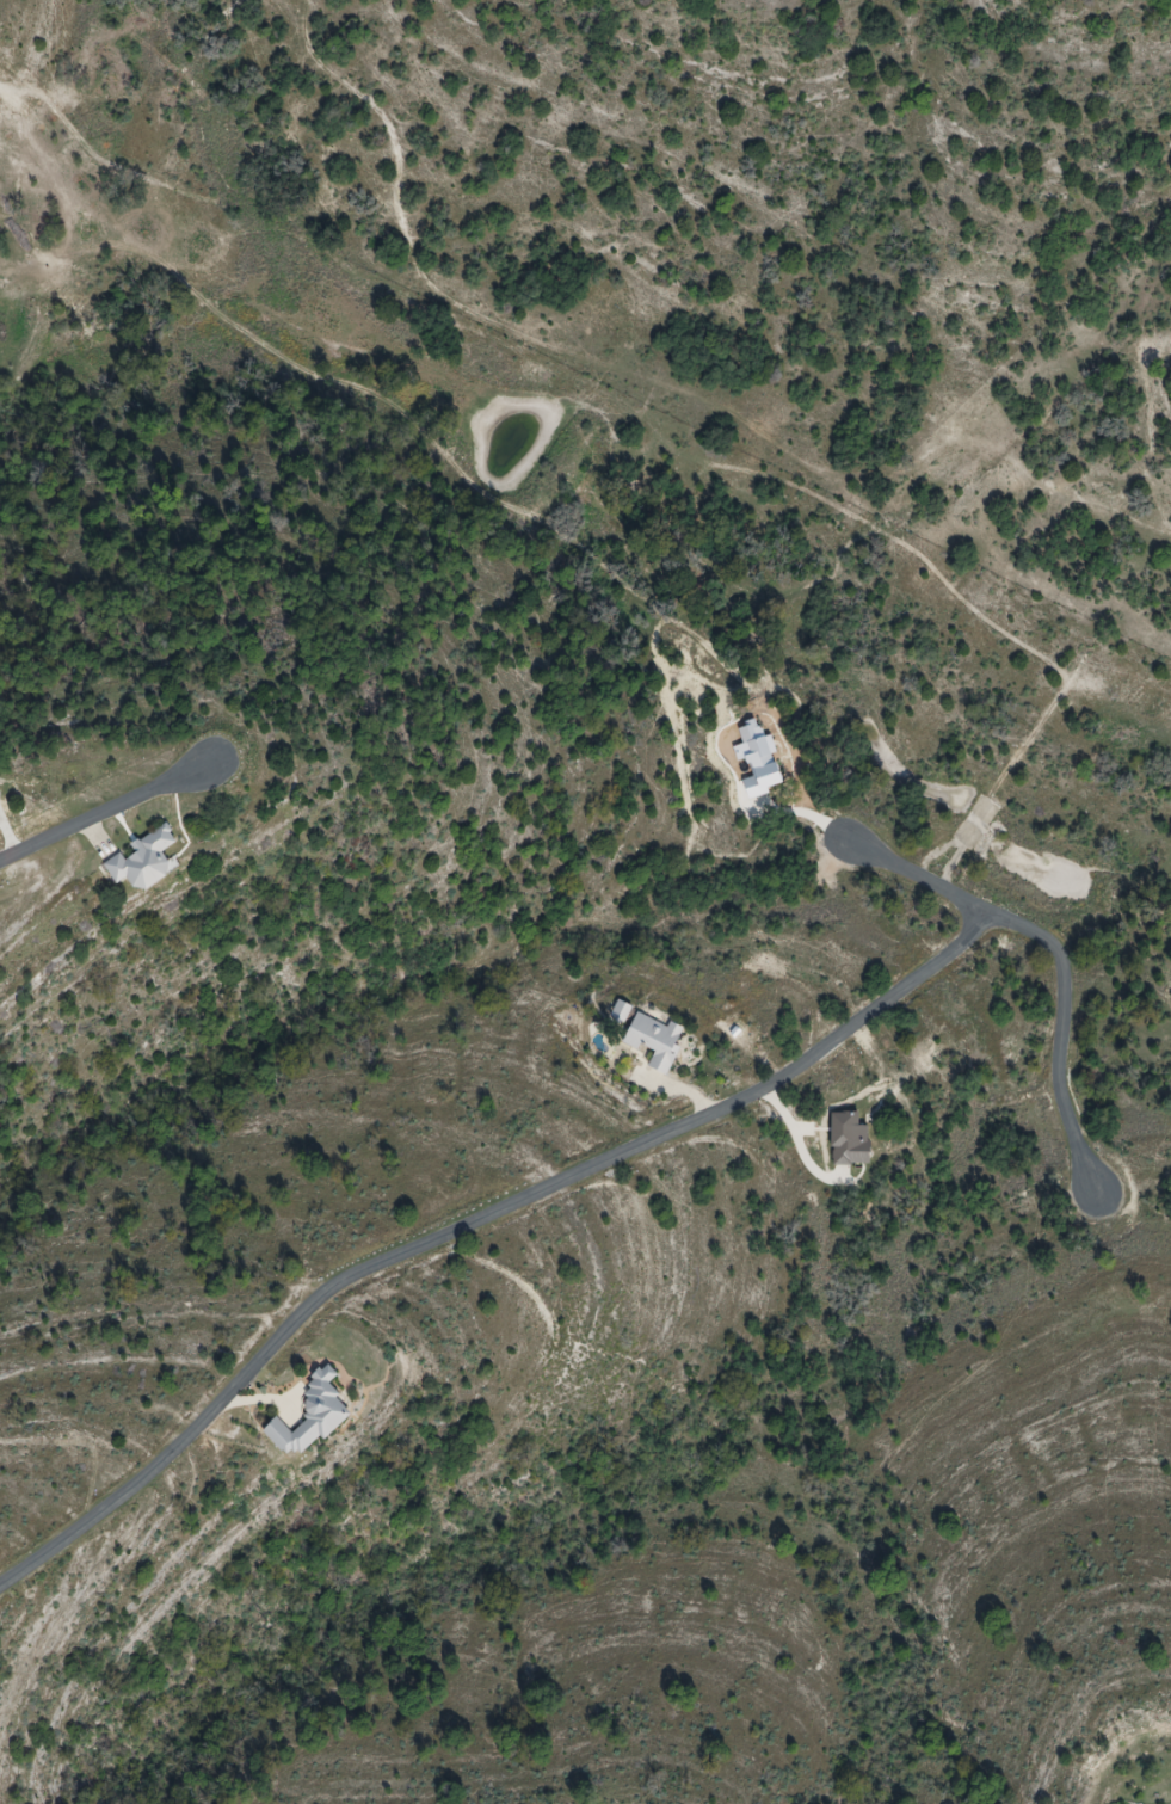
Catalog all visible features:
road: (116, 805)
building: (146, 860)
road: (1060, 960)
building: (622, 1011)
building: (657, 1040)
road: (477, 1221)
building: (313, 1417)

